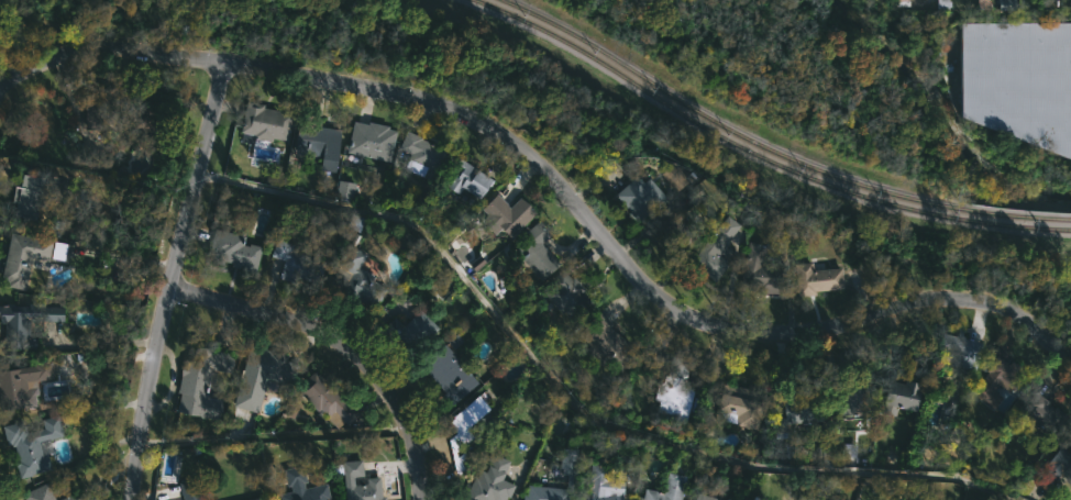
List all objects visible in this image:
building: (902, 2)
building: (941, 3)
building: (1005, 4)
park: (450, 71)
park: (804, 80)
building: (1018, 80)
building: (112, 108)
building: (263, 121)
building: (319, 142)
building: (367, 142)
building: (420, 151)
railway: (771, 151)
railway: (758, 155)
building: (671, 173)
building: (465, 178)
road: (554, 182)
building: (344, 190)
building: (636, 195)
building: (23, 198)
building: (505, 213)
building: (667, 225)
building: (232, 249)
building: (533, 249)
building: (714, 251)
building: (20, 258)
building: (295, 262)
park: (954, 267)
building: (759, 271)
building: (357, 277)
road: (169, 279)
building: (815, 279)
building: (563, 293)
building: (16, 324)
building: (406, 331)
road: (342, 343)
building: (605, 343)
building: (957, 352)
building: (446, 375)
building: (997, 376)
building: (256, 377)
building: (197, 382)
building: (21, 384)
building: (674, 392)
building: (897, 395)
building: (328, 400)
building: (853, 400)
road: (572, 401)
building: (739, 403)
building: (1037, 408)
building: (803, 410)
building: (464, 422)
building: (29, 445)
building: (568, 466)
building: (1056, 466)
building: (488, 481)
building: (357, 484)
building: (599, 485)
building: (301, 486)
building: (189, 489)
building: (665, 489)
building: (36, 493)
building: (543, 493)
building: (67, 497)
building: (703, 497)
building: (256, 499)
building: (752, 499)
building: (810, 499)

